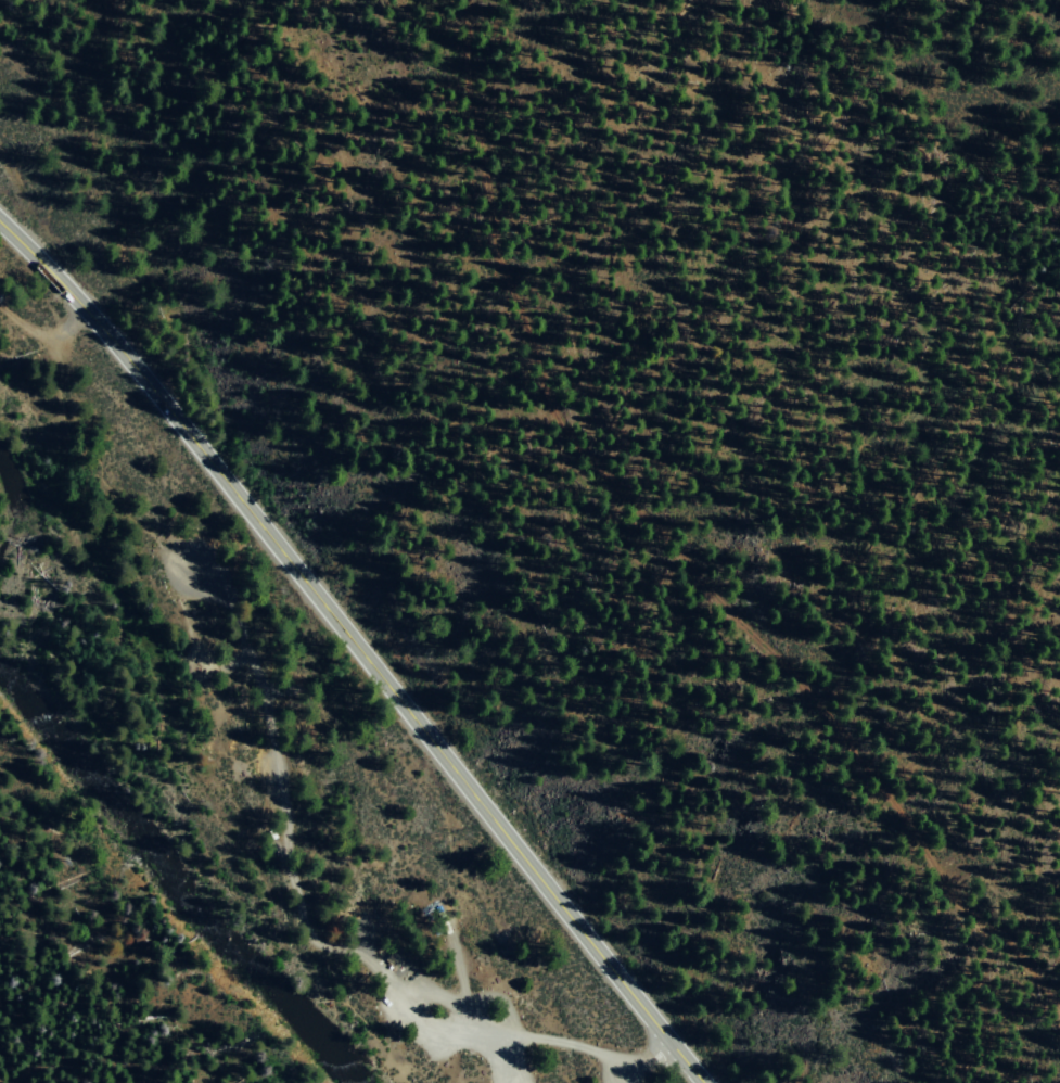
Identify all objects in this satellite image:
river: (3, 504)
road: (676, 543)
road: (357, 647)
road: (265, 713)
river: (170, 882)
road: (459, 1011)
road: (387, 1030)
road: (622, 1079)

